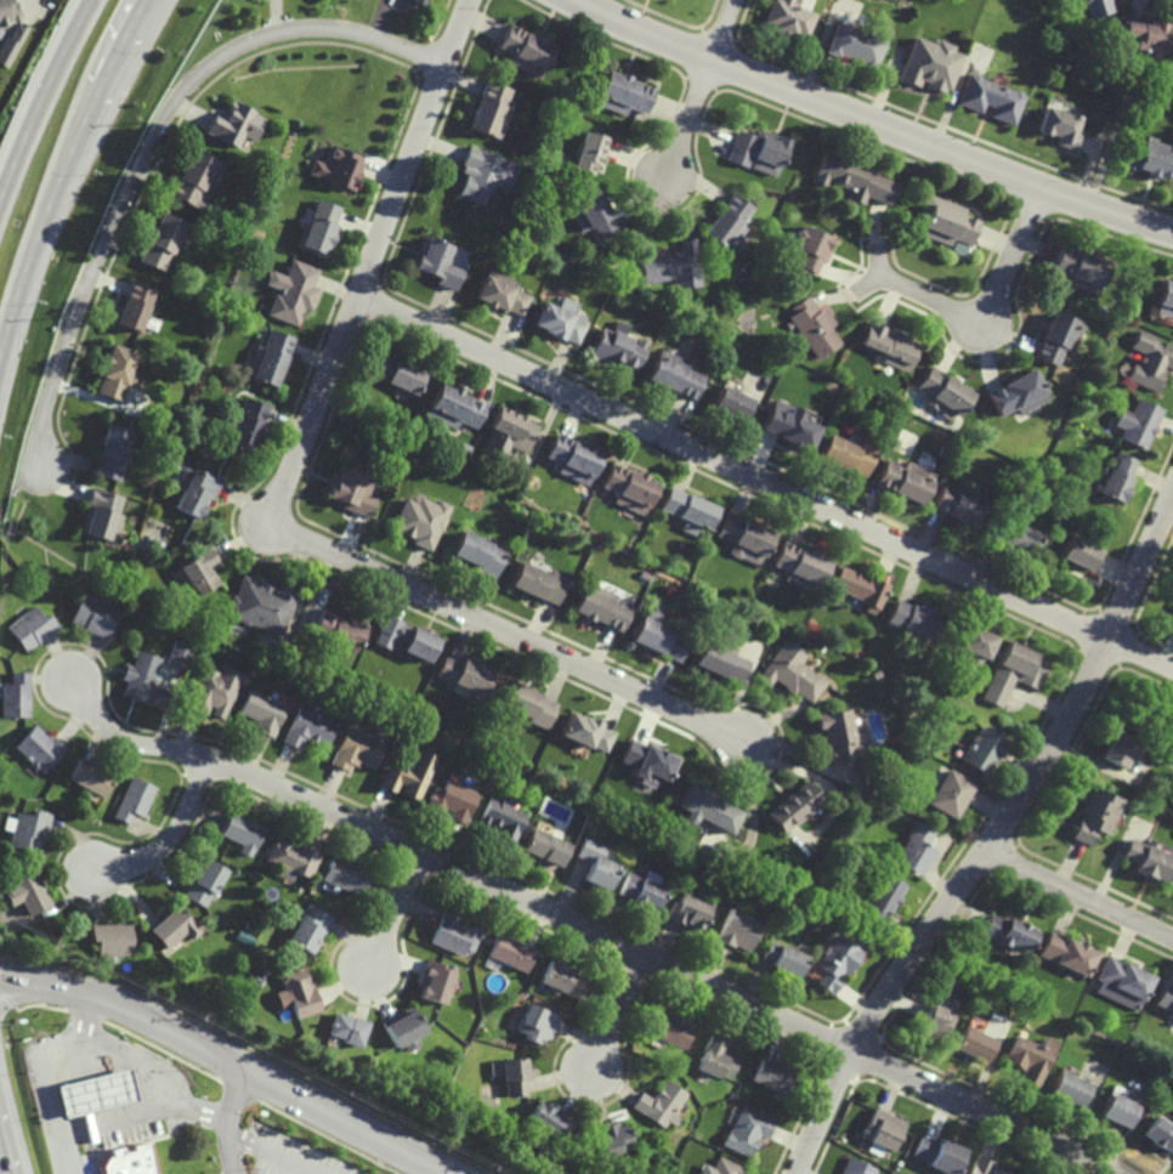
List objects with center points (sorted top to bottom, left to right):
building: (418, 1)
building: (1095, 7)
building: (786, 18)
building: (18, 34)
building: (1143, 34)
building: (854, 45)
building: (525, 50)
building: (928, 64)
road: (699, 86)
building: (623, 93)
road: (41, 95)
building: (987, 97)
building: (491, 110)
road: (874, 121)
building: (236, 124)
building: (1058, 127)
road: (152, 141)
building: (758, 151)
building: (586, 153)
building: (1147, 159)
building: (338, 166)
road: (63, 171)
building: (483, 175)
building: (852, 178)
building: (195, 180)
building: (593, 211)
building: (943, 221)
building: (726, 222)
building: (319, 227)
building: (161, 242)
building: (811, 248)
building: (441, 261)
building: (671, 265)
building: (1081, 267)
building: (291, 290)
building: (503, 293)
building: (1164, 296)
building: (134, 306)
road: (988, 306)
building: (561, 319)
building: (814, 327)
building: (1055, 338)
building: (888, 345)
building: (618, 348)
building: (270, 358)
building: (1149, 358)
building: (115, 373)
building: (398, 374)
building: (674, 374)
building: (942, 392)
building: (1016, 393)
building: (730, 404)
building: (454, 408)
building: (1135, 424)
building: (245, 425)
building: (787, 425)
building: (510, 433)
building: (112, 452)
building: (844, 455)
building: (573, 459)
building: (1117, 476)
building: (903, 481)
road: (765, 482)
building: (629, 488)
building: (352, 490)
building: (198, 493)
road: (280, 501)
building: (958, 504)
building: (687, 511)
building: (102, 514)
building: (420, 520)
building: (744, 538)
building: (1021, 538)
building: (477, 552)
building: (1078, 554)
building: (800, 566)
building: (197, 569)
building: (538, 583)
building: (858, 588)
building: (262, 603)
building: (600, 606)
building: (92, 614)
building: (909, 619)
building: (32, 626)
building: (336, 631)
building: (658, 635)
building: (404, 637)
building: (971, 642)
building: (180, 652)
building: (718, 659)
building: (1014, 671)
building: (790, 673)
building: (466, 675)
building: (142, 679)
building: (215, 691)
building: (16, 696)
building: (527, 704)
building: (262, 711)
building: (310, 728)
building: (584, 732)
building: (838, 736)
building: (1172, 743)
building: (1118, 744)
building: (39, 749)
building: (357, 749)
building: (982, 750)
building: (648, 762)
building: (408, 773)
building: (90, 775)
building: (950, 794)
building: (135, 799)
building: (452, 800)
building: (793, 805)
building: (705, 806)
building: (1093, 815)
building: (500, 817)
building: (25, 830)
building: (242, 832)
road: (171, 839)
road: (993, 841)
building: (545, 846)
building: (914, 849)
building: (291, 858)
building: (1146, 860)
building: (595, 862)
building: (347, 875)
building: (204, 883)
building: (641, 890)
building: (25, 892)
road: (1079, 894)
building: (883, 896)
road: (395, 911)
building: (687, 911)
building: (174, 926)
road: (583, 926)
building: (737, 929)
building: (310, 930)
building: (1008, 931)
building: (452, 934)
building: (112, 937)
building: (510, 953)
building: (1066, 953)
building: (784, 958)
building: (837, 962)
building: (565, 980)
building: (436, 981)
building: (1123, 982)
building: (296, 992)
building: (1164, 999)
road: (613, 1011)
building: (935, 1021)
building: (534, 1025)
building: (347, 1028)
building: (402, 1028)
building: (670, 1028)
building: (975, 1045)
building: (1028, 1056)
building: (714, 1057)
road: (231, 1060)
road: (141, 1066)
road: (33, 1067)
building: (512, 1074)
building: (769, 1078)
building: (1069, 1088)
building: (97, 1095)
building: (658, 1104)
building: (1116, 1107)
road: (229, 1119)
building: (546, 1121)
road: (113, 1122)
building: (883, 1129)
building: (746, 1130)
building: (1158, 1134)
building: (611, 1136)
road: (272, 1153)
building: (940, 1155)
road: (53, 1156)
road: (1053, 1159)
building: (130, 1162)
gas station: (130, 1162)
road: (1, 1166)
building: (984, 1167)
building: (720, 1168)
building: (855, 1168)

